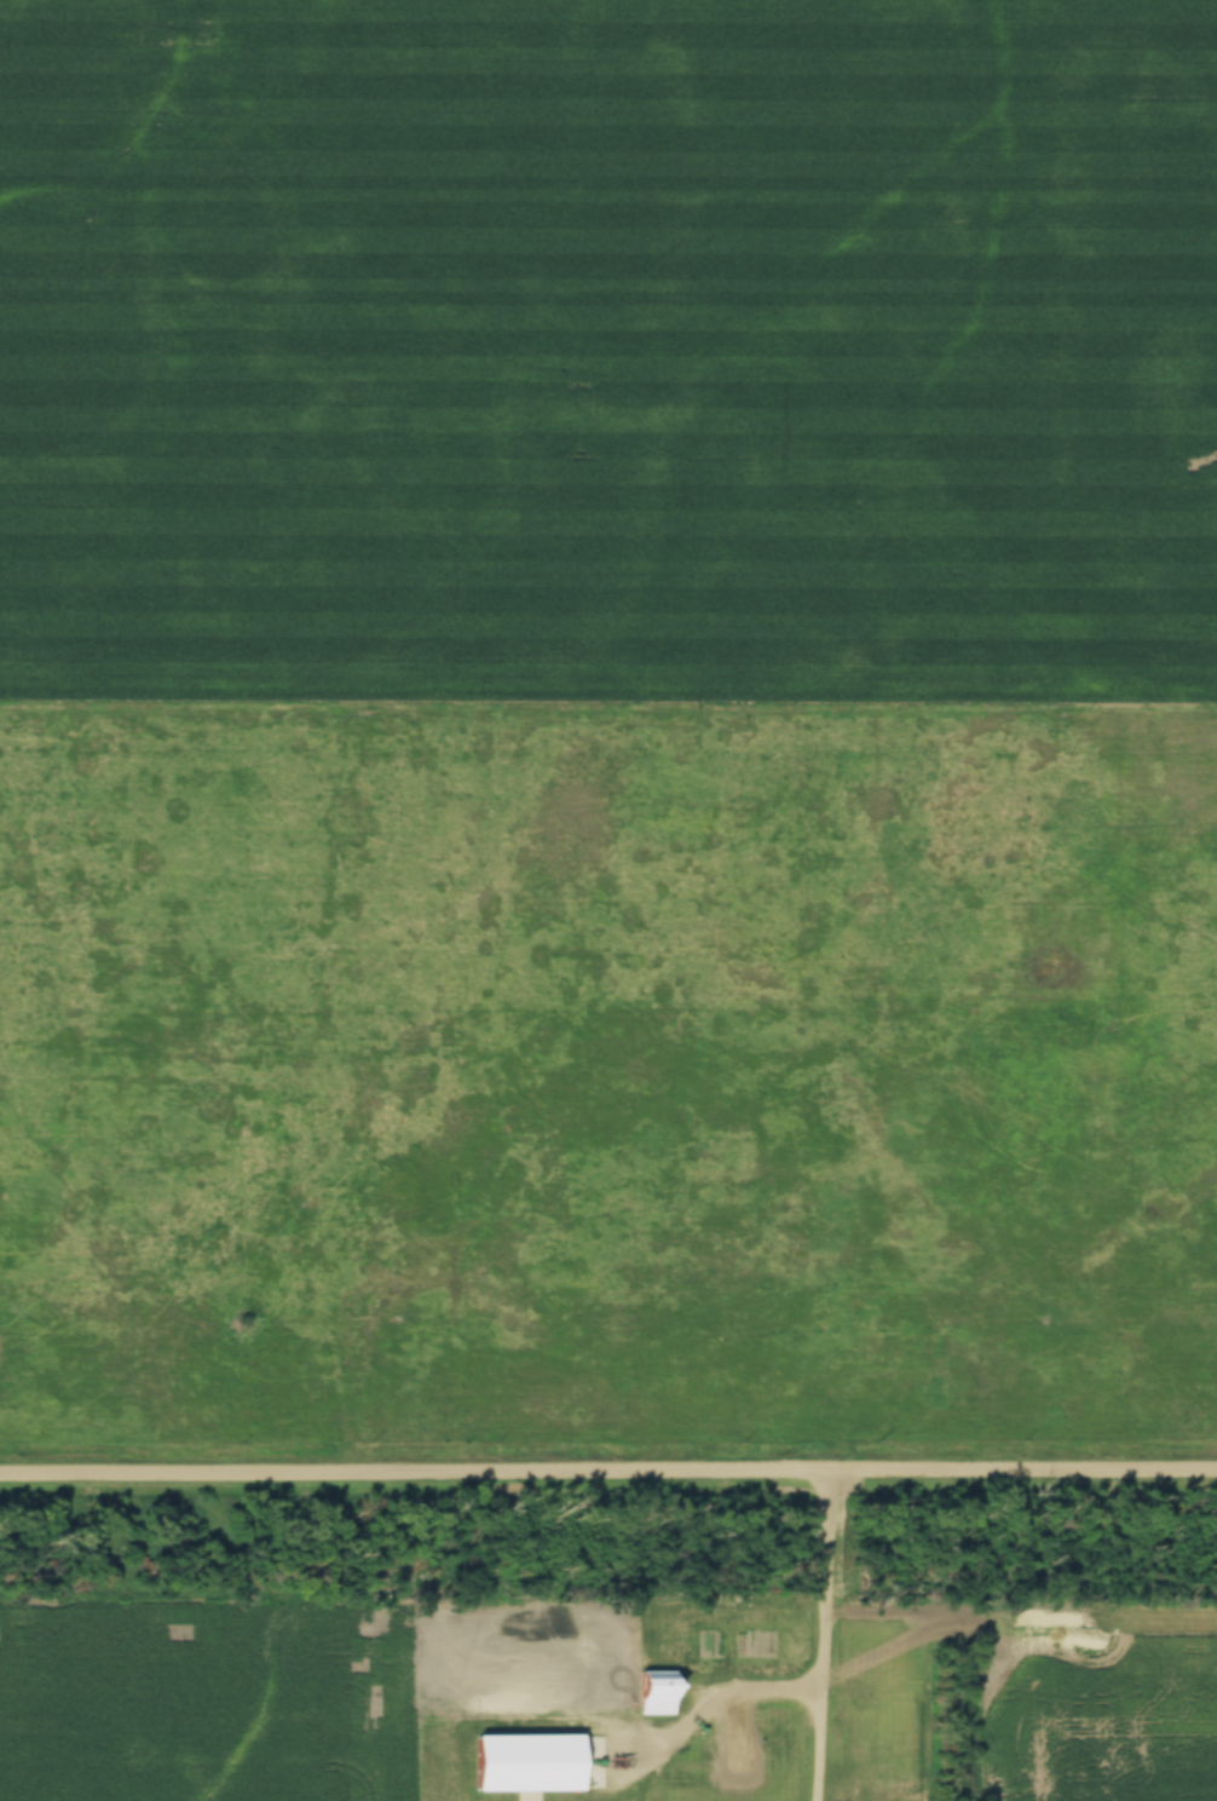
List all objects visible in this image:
road: (607, 1468)
road: (825, 1634)
building: (653, 1693)
road: (705, 1705)
building: (600, 1761)
building: (738, 1761)

